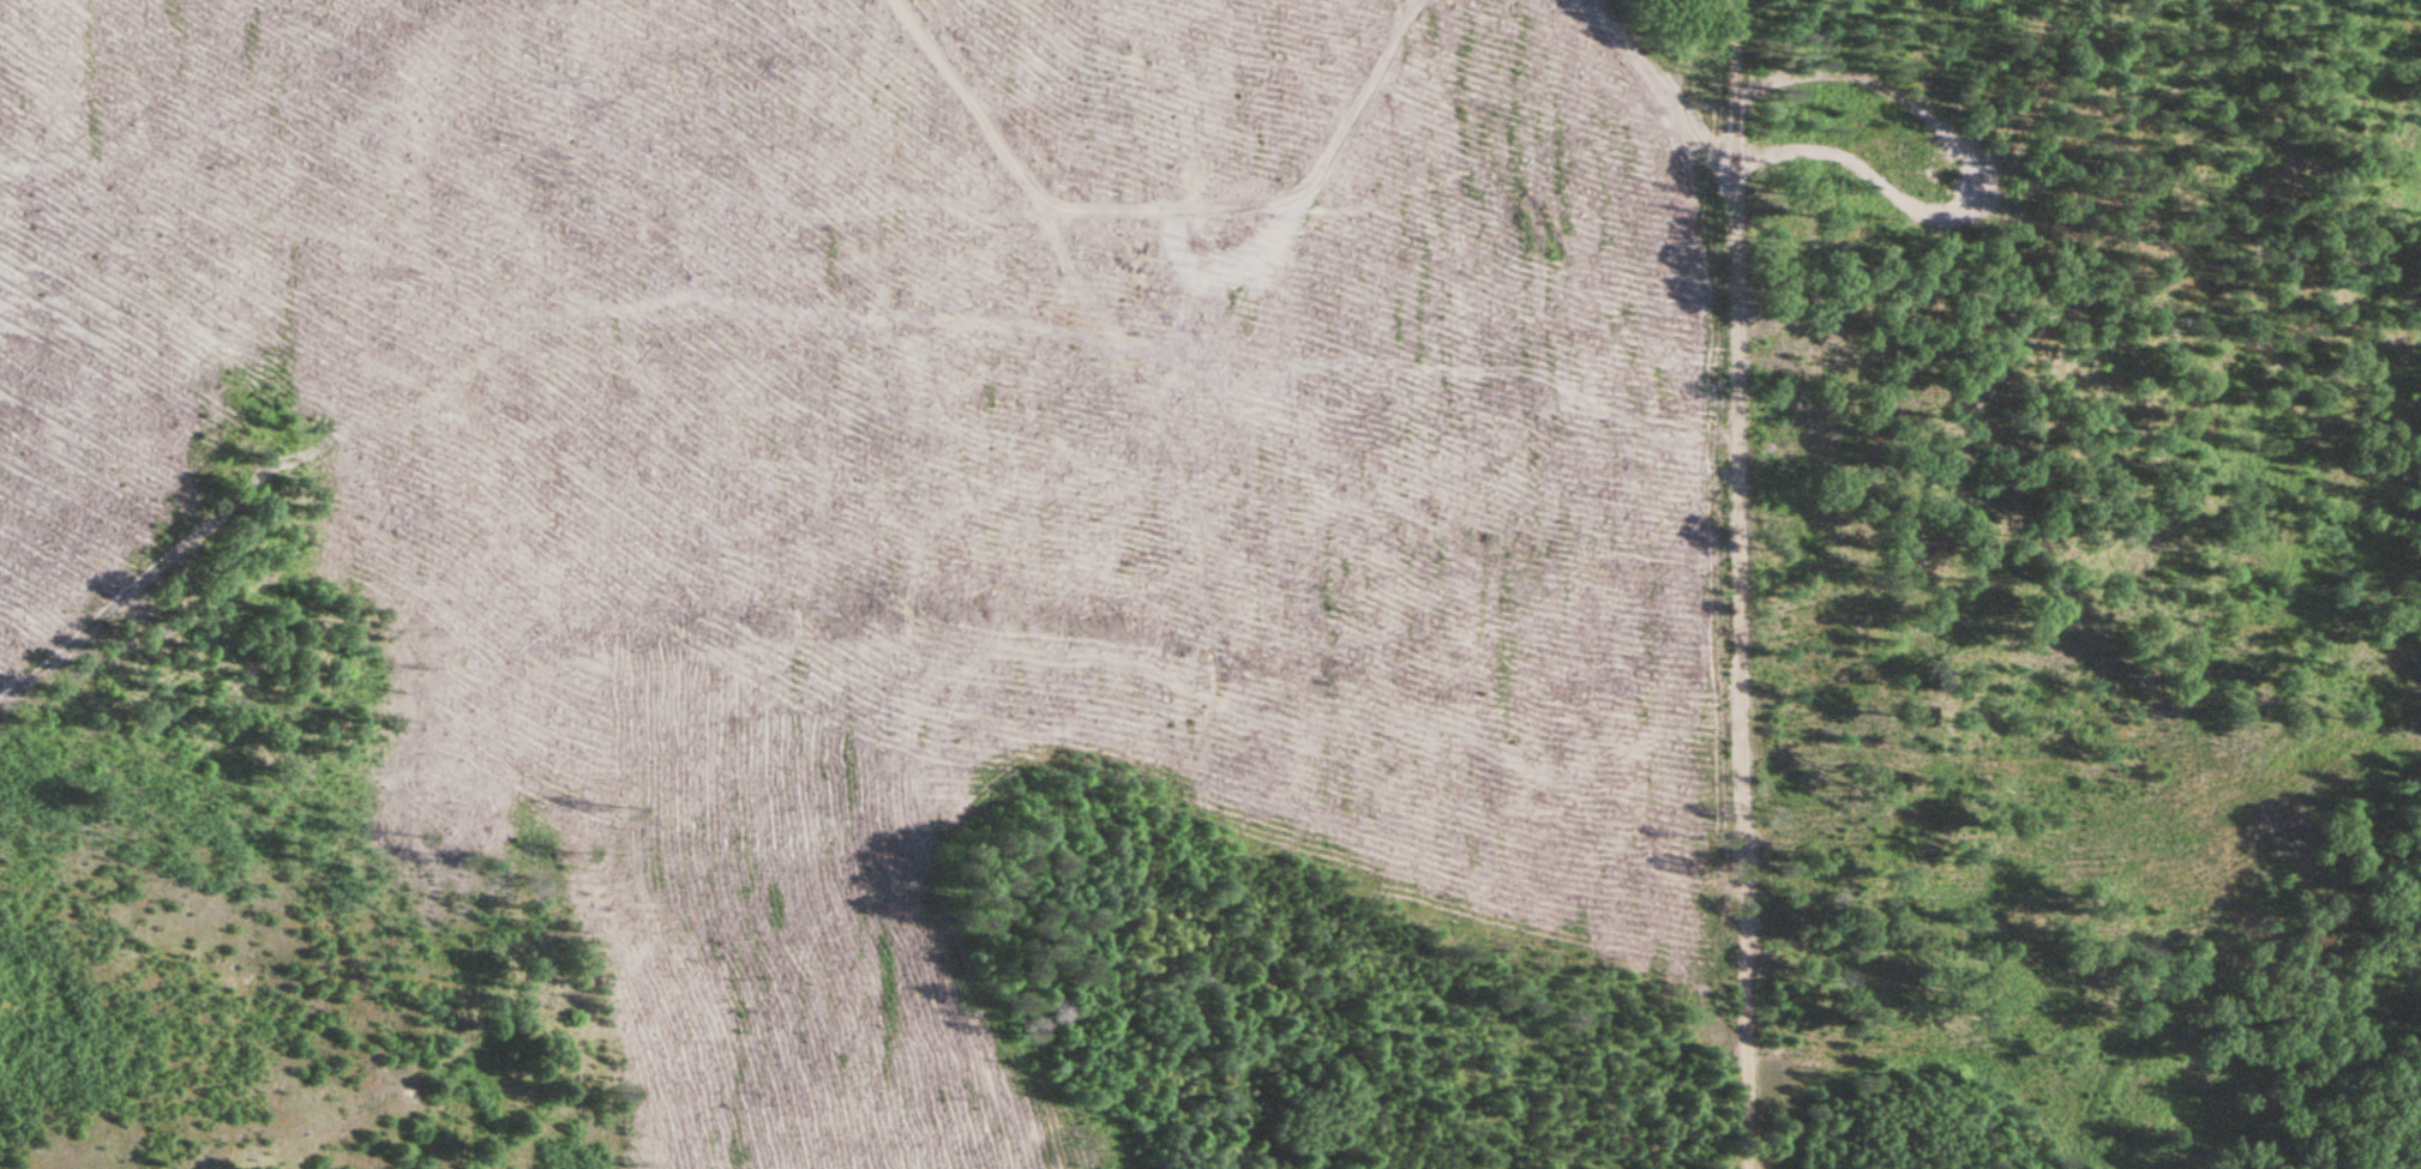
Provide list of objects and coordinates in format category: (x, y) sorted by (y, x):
road: (1743, 584)

